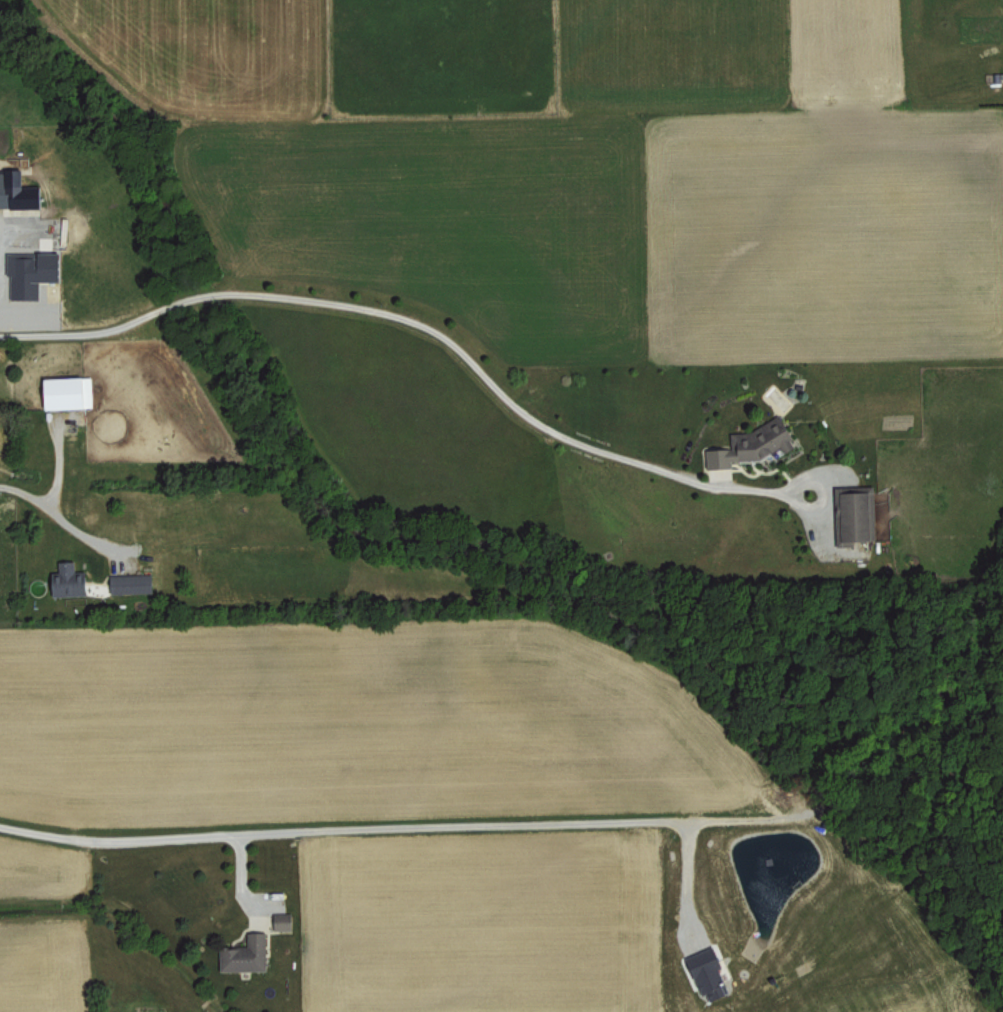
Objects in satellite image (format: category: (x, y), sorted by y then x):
building: (20, 191)
building: (35, 272)
road: (410, 330)
building: (70, 391)
building: (757, 442)
building: (858, 514)
road: (55, 519)
building: (72, 579)
building: (135, 582)
road: (363, 833)
road: (677, 884)
building: (286, 921)
building: (249, 954)
building: (714, 974)

